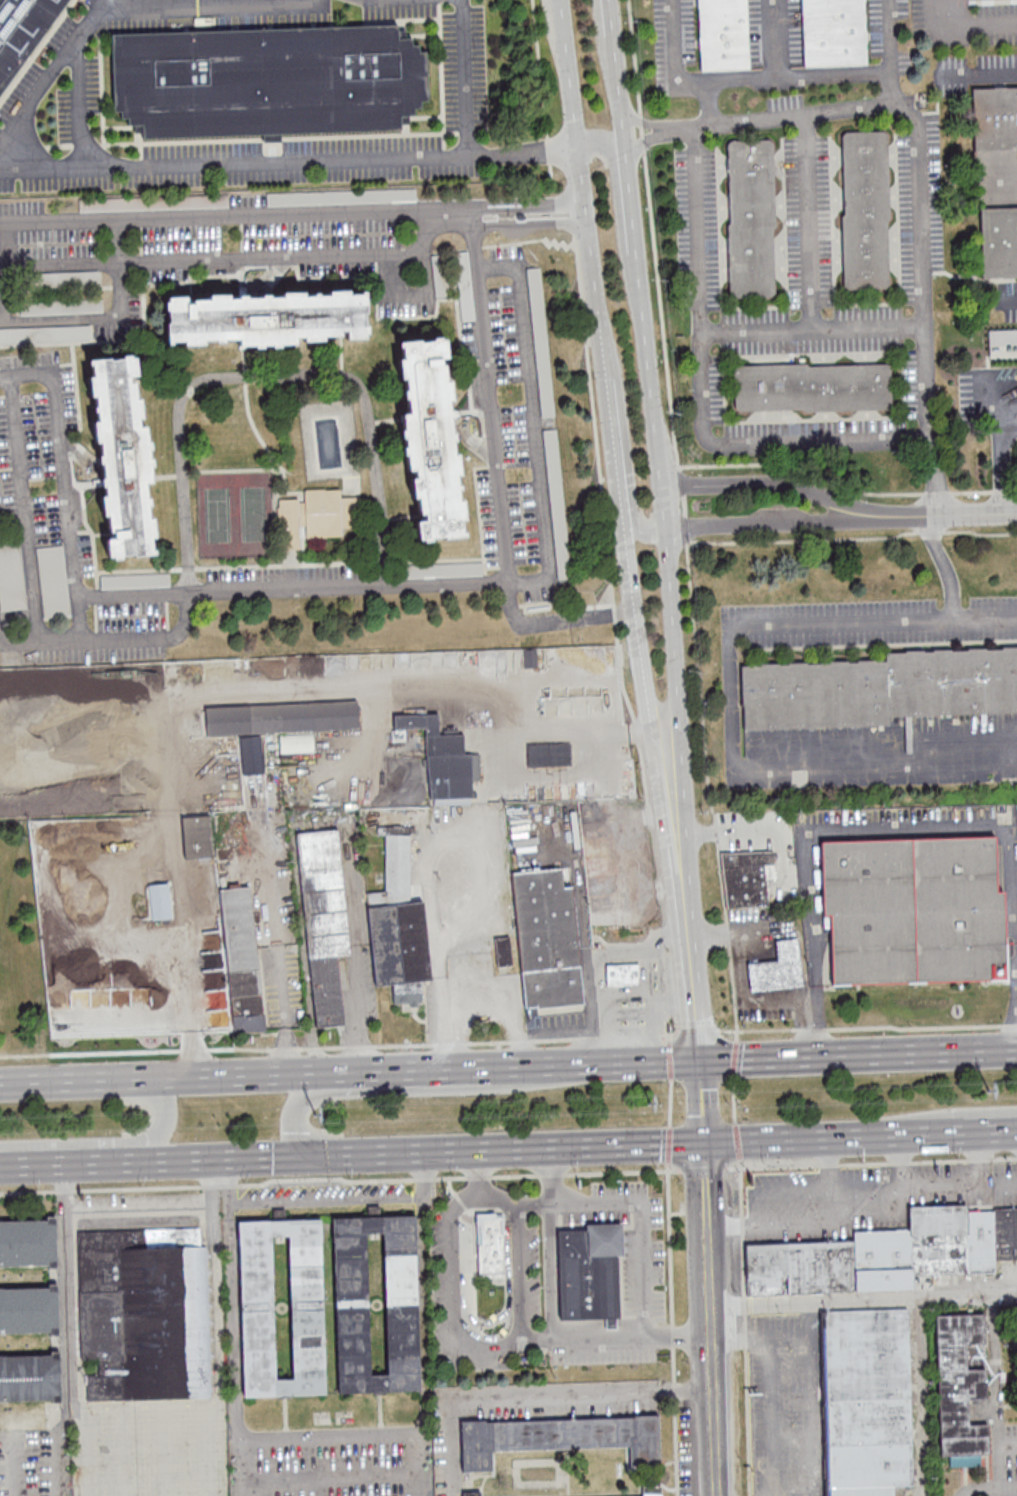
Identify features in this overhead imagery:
road: (99, 6)
road: (121, 11)
road: (610, 17)
road: (964, 22)
building: (22, 31)
building: (833, 32)
building: (723, 34)
road: (886, 51)
road: (674, 70)
road: (978, 72)
road: (834, 73)
road: (780, 76)
building: (267, 79)
road: (81, 101)
road: (619, 103)
building: (994, 117)
road: (608, 146)
road: (522, 149)
road: (310, 159)
road: (917, 164)
road: (1013, 179)
road: (582, 188)
building: (341, 196)
road: (556, 202)
road: (498, 205)
building: (865, 209)
road: (630, 210)
road: (238, 214)
building: (751, 218)
road: (806, 220)
road: (528, 223)
building: (998, 240)
road: (229, 258)
road: (9, 271)
road: (1013, 299)
building: (267, 316)
road: (107, 317)
road: (810, 328)
building: (541, 342)
building: (811, 386)
road: (696, 396)
road: (489, 399)
road: (533, 420)
road: (611, 432)
building: (430, 438)
building: (121, 456)
road: (1000, 459)
road: (659, 481)
road: (771, 482)
road: (64, 484)
building: (557, 503)
road: (24, 510)
road: (947, 512)
building: (316, 516)
road: (630, 520)
road: (771, 524)
road: (943, 563)
building: (11, 574)
building: (53, 581)
road: (237, 590)
road: (131, 595)
road: (630, 604)
road: (557, 620)
road: (693, 655)
building: (878, 688)
road: (730, 699)
building: (281, 717)
road: (662, 720)
building: (295, 742)
road: (497, 744)
building: (548, 754)
building: (444, 760)
road: (863, 828)
road: (755, 830)
building: (197, 835)
road: (429, 867)
building: (747, 876)
road: (680, 892)
building: (159, 900)
building: (914, 910)
building: (321, 919)
building: (398, 920)
building: (544, 939)
road: (278, 941)
building: (503, 950)
road: (355, 957)
building: (240, 960)
road: (598, 964)
building: (777, 967)
building: (92, 970)
building: (620, 974)
building: (167, 989)
road: (671, 1003)
road: (651, 1004)
road: (500, 1011)
building: (630, 1013)
road: (857, 1053)
traffic signals: (698, 1059)
road: (590, 1063)
road: (415, 1069)
road: (731, 1069)
road: (668, 1071)
road: (174, 1077)
power tower: (988, 1088)
road: (416, 1089)
road: (699, 1101)
road: (732, 1101)
power tower: (649, 1102)
road: (669, 1104)
road: (961, 1111)
power tower: (316, 1113)
road: (936, 1132)
road: (778, 1138)
road: (735, 1141)
road: (106, 1142)
traffic signals: (700, 1143)
road: (665, 1144)
road: (502, 1149)
traffic signals: (296, 1156)
road: (221, 1160)
road: (871, 1162)
road: (902, 1162)
road: (68, 1163)
road: (700, 1168)
road: (423, 1169)
road: (621, 1171)
road: (474, 1173)
road: (551, 1173)
road: (267, 1180)
road: (1004, 1183)
road: (934, 1191)
road: (479, 1197)
road: (307, 1200)
road: (533, 1203)
building: (279, 1213)
road: (810, 1222)
road: (635, 1225)
road: (740, 1228)
building: (1004, 1232)
building: (935, 1239)
building: (978, 1241)
road: (550, 1242)
building: (26, 1244)
road: (666, 1244)
building: (487, 1245)
building: (879, 1260)
building: (796, 1267)
road: (519, 1271)
building: (586, 1273)
road: (862, 1301)
road: (60, 1303)
building: (373, 1304)
road: (743, 1306)
building: (278, 1308)
building: (27, 1310)
building: (141, 1313)
road: (452, 1314)
road: (707, 1319)
road: (486, 1321)
road: (669, 1335)
road: (673, 1335)
road: (579, 1336)
road: (422, 1346)
road: (232, 1349)
building: (28, 1378)
road: (769, 1387)
building: (956, 1388)
road: (532, 1397)
road: (803, 1397)
road: (918, 1397)
building: (864, 1401)
road: (147, 1402)
road: (745, 1405)
building: (325, 1420)
road: (671, 1421)
road: (327, 1437)
building: (557, 1438)
road: (53, 1440)
road: (328, 1472)
building: (648, 1491)
building: (468, 1494)

